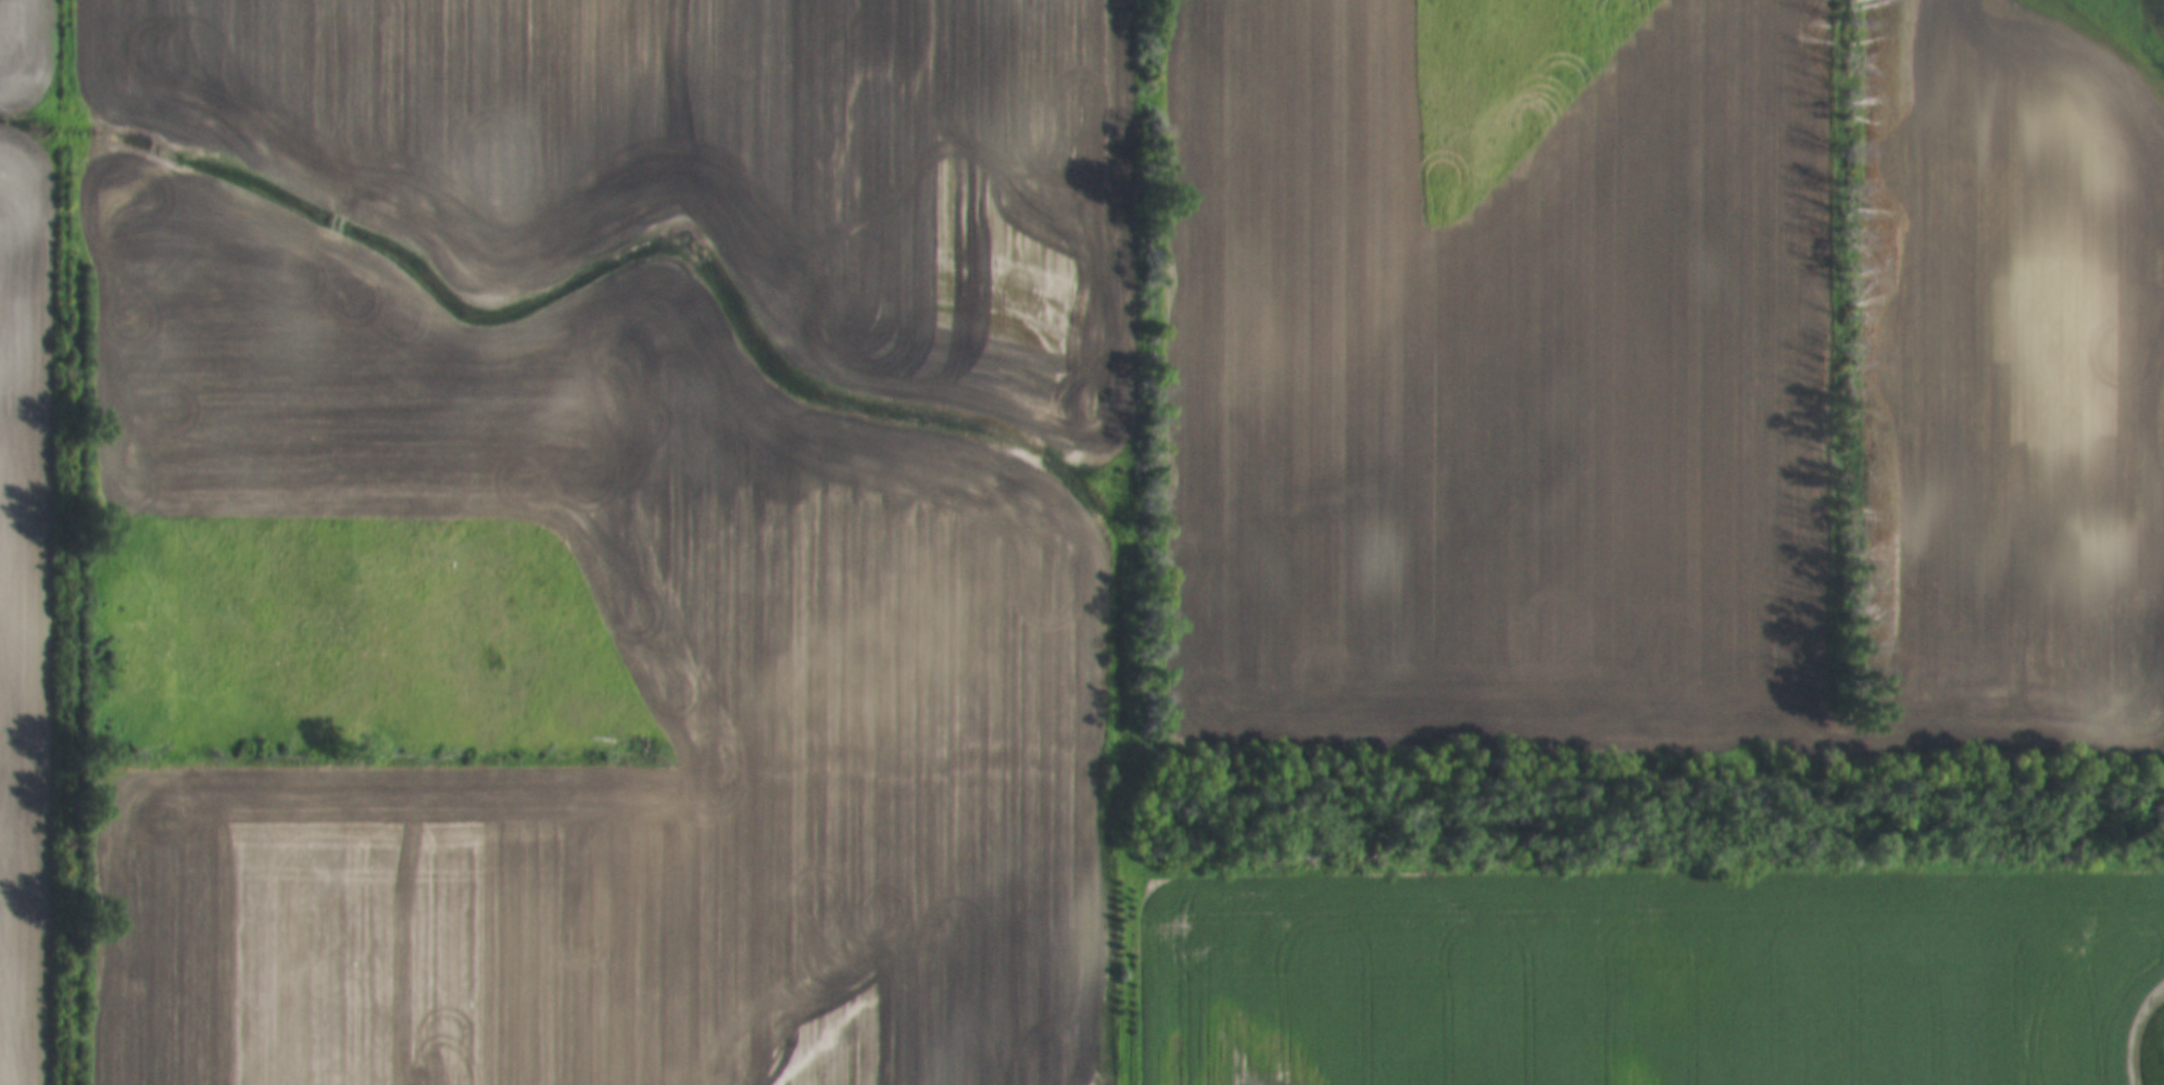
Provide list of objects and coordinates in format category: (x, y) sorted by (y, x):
road: (75, 542)

